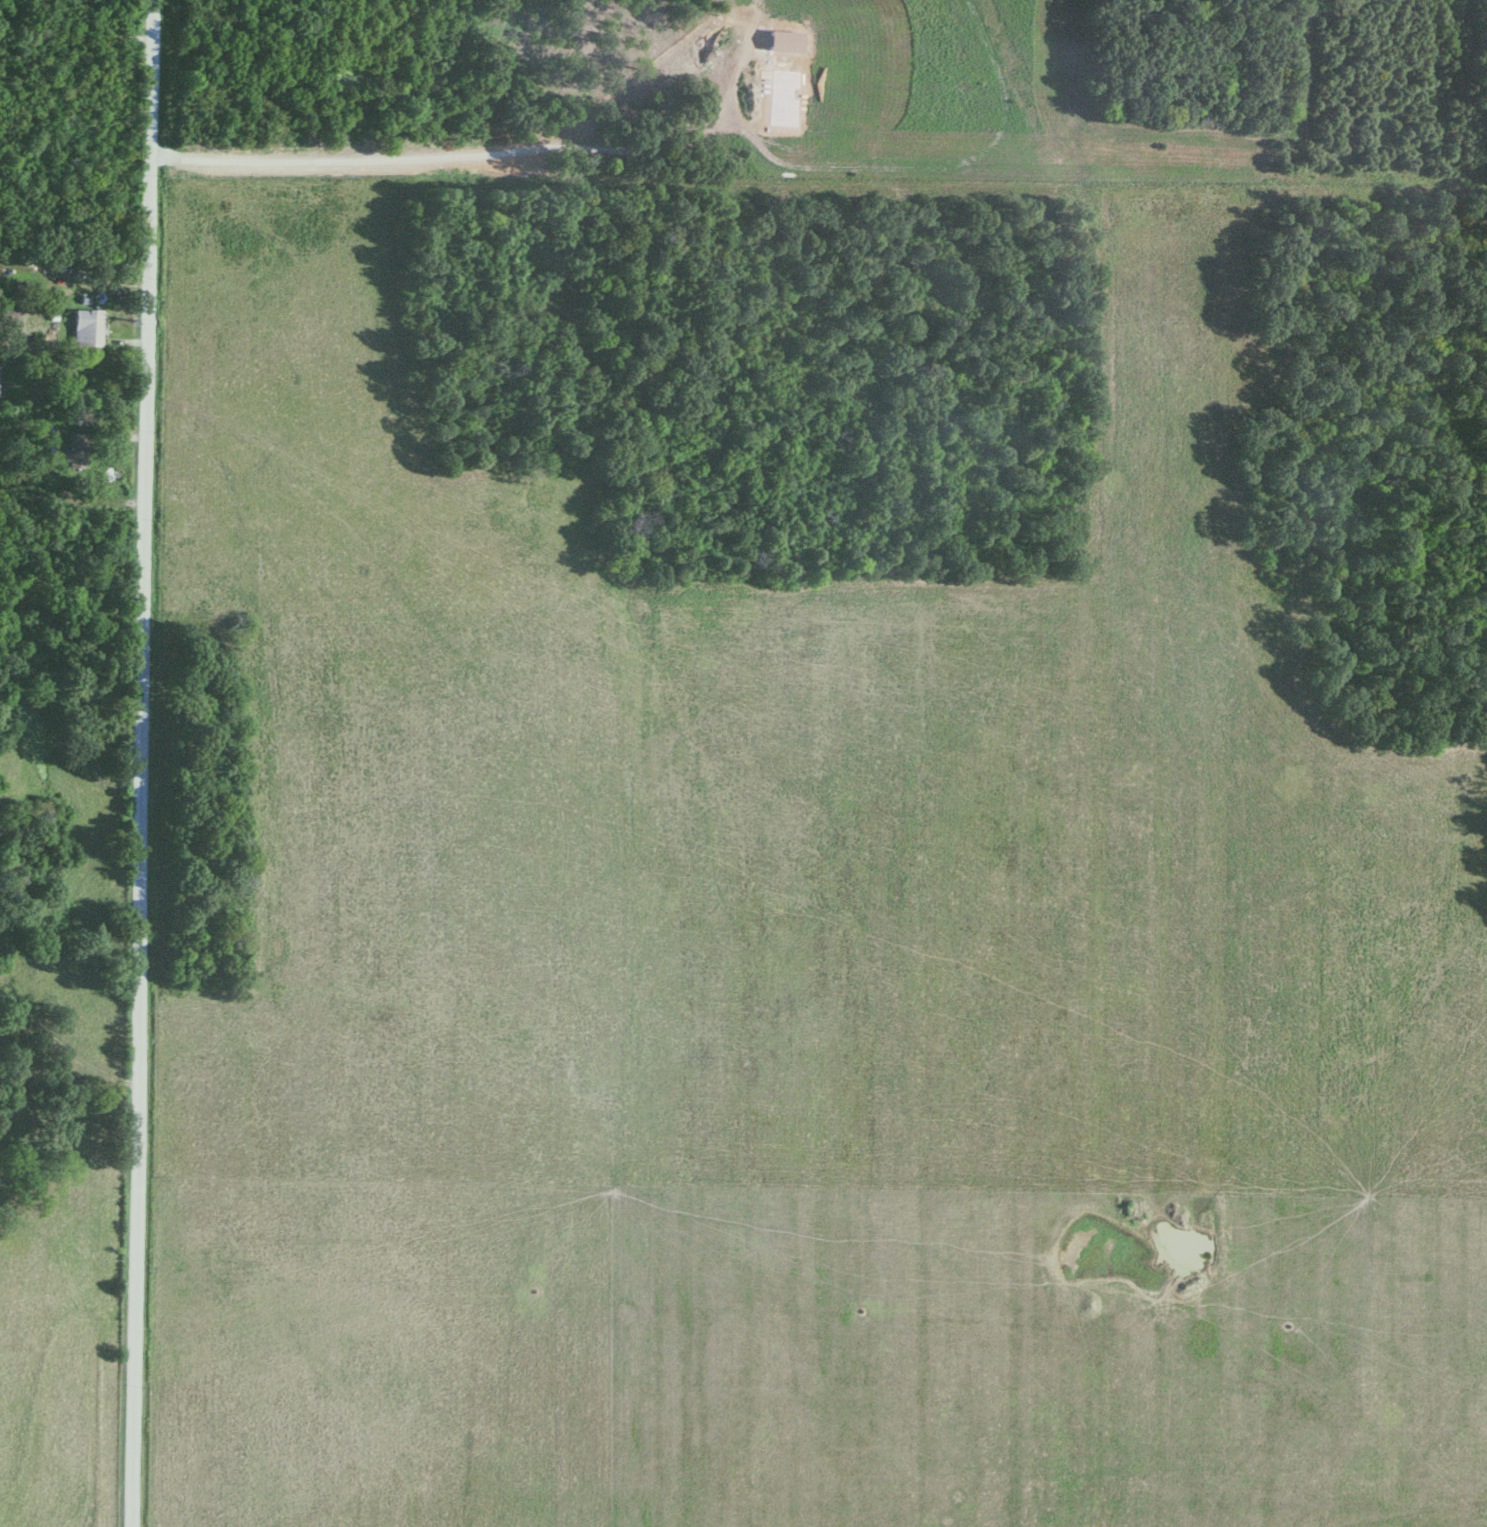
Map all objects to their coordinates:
road: (72, 34)
road: (459, 157)
building: (87, 330)
road: (138, 763)

